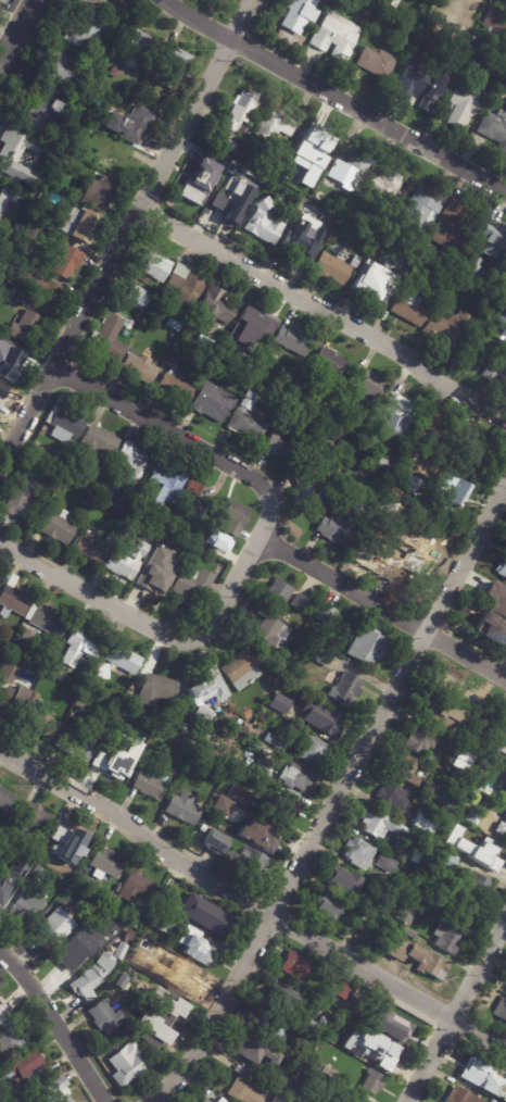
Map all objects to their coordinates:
building: (393, 2)
building: (461, 5)
building: (104, 7)
building: (299, 14)
building: (497, 20)
road: (17, 32)
building: (84, 32)
building: (337, 36)
building: (131, 47)
building: (459, 49)
building: (378, 63)
building: (167, 67)
building: (58, 73)
building: (114, 73)
building: (421, 88)
building: (140, 89)
road: (339, 93)
building: (464, 104)
building: (240, 110)
building: (38, 114)
building: (276, 122)
building: (136, 125)
building: (493, 130)
building: (224, 141)
building: (312, 142)
building: (15, 152)
building: (116, 159)
building: (350, 166)
building: (269, 185)
building: (385, 189)
building: (207, 190)
building: (100, 193)
building: (7, 201)
building: (232, 203)
building: (359, 206)
building: (421, 206)
building: (35, 213)
building: (264, 223)
building: (78, 224)
building: (451, 228)
road: (125, 231)
building: (490, 240)
building: (295, 249)
building: (64, 261)
building: (355, 262)
building: (152, 267)
building: (332, 270)
building: (483, 283)
building: (440, 284)
building: (184, 287)
building: (369, 288)
building: (39, 291)
building: (134, 298)
building: (408, 306)
building: (215, 308)
building: (116, 309)
road: (324, 309)
building: (504, 317)
building: (256, 321)
building: (175, 326)
building: (24, 328)
building: (447, 328)
building: (125, 334)
building: (107, 339)
building: (204, 341)
building: (293, 341)
building: (228, 348)
building: (11, 363)
building: (218, 363)
building: (328, 364)
building: (298, 367)
building: (139, 368)
building: (495, 378)
building: (176, 383)
building: (253, 383)
building: (369, 384)
building: (2, 391)
building: (343, 393)
building: (212, 402)
building: (401, 416)
building: (246, 421)
building: (431, 424)
building: (64, 426)
road: (181, 438)
building: (97, 442)
building: (480, 442)
building: (429, 443)
building: (283, 449)
building: (131, 463)
building: (53, 465)
building: (384, 465)
building: (98, 471)
building: (65, 485)
building: (413, 485)
building: (163, 488)
building: (193, 488)
building: (309, 489)
building: (455, 493)
building: (126, 497)
building: (24, 504)
building: (138, 505)
building: (191, 511)
building: (232, 517)
building: (58, 527)
building: (336, 534)
building: (217, 541)
building: (91, 548)
building: (395, 559)
building: (125, 560)
building: (504, 568)
building: (0, 579)
building: (153, 581)
building: (192, 587)
building: (277, 594)
building: (496, 598)
building: (13, 601)
building: (301, 603)
road: (383, 608)
building: (325, 612)
building: (46, 621)
road: (149, 626)
building: (491, 628)
building: (267, 634)
building: (28, 635)
building: (1, 641)
building: (365, 643)
building: (80, 644)
building: (322, 656)
building: (124, 658)
building: (36, 660)
building: (291, 661)
building: (42, 664)
building: (51, 668)
building: (242, 668)
building: (103, 671)
building: (8, 673)
building: (451, 684)
building: (159, 686)
building: (345, 688)
building: (205, 696)
building: (35, 698)
building: (13, 701)
building: (115, 702)
building: (280, 703)
building: (132, 705)
building: (479, 707)
building: (440, 712)
building: (248, 714)
building: (102, 715)
building: (321, 717)
building: (505, 721)
building: (43, 724)
building: (181, 740)
building: (463, 740)
building: (273, 741)
building: (419, 741)
building: (501, 741)
building: (76, 743)
building: (314, 750)
building: (270, 754)
building: (193, 761)
building: (236, 761)
building: (113, 762)
building: (408, 768)
building: (260, 769)
building: (214, 776)
building: (295, 776)
building: (150, 782)
building: (239, 793)
building: (392, 796)
building: (5, 799)
road: (333, 799)
building: (443, 799)
building: (505, 802)
building: (223, 805)
building: (284, 806)
building: (182, 809)
building: (505, 814)
building: (33, 817)
building: (473, 817)
building: (420, 823)
building: (381, 825)
building: (502, 828)
building: (260, 834)
building: (67, 836)
building: (446, 839)
building: (457, 846)
building: (492, 851)
building: (246, 852)
building: (400, 852)
building: (359, 853)
building: (446, 860)
building: (106, 863)
building: (72, 868)
building: (387, 872)
building: (37, 873)
building: (11, 877)
building: (75, 879)
building: (344, 881)
building: (478, 886)
building: (137, 888)
building: (117, 889)
building: (434, 889)
building: (112, 899)
road: (251, 905)
building: (329, 906)
building: (25, 907)
building: (84, 913)
building: (406, 914)
building: (463, 917)
building: (165, 918)
building: (212, 918)
building: (384, 918)
building: (362, 922)
building: (137, 925)
building: (56, 928)
building: (422, 930)
building: (408, 931)
building: (446, 939)
building: (87, 943)
building: (159, 950)
building: (199, 951)
building: (418, 960)
building: (295, 965)
building: (96, 974)
building: (188, 979)
building: (122, 981)
building: (340, 990)
building: (281, 997)
building: (352, 1005)
building: (501, 1010)
road: (457, 1012)
building: (3, 1013)
building: (104, 1017)
building: (159, 1017)
building: (320, 1025)
building: (266, 1026)
road: (53, 1027)
building: (393, 1032)
building: (340, 1037)
building: (11, 1039)
building: (371, 1047)
building: (251, 1050)
building: (126, 1062)
building: (22, 1072)
building: (477, 1073)
building: (284, 1082)
building: (372, 1082)
building: (319, 1084)
building: (391, 1085)
building: (245, 1088)
building: (51, 1091)
building: (461, 1095)
building: (26, 1097)
building: (504, 1097)
building: (279, 1098)
building: (205, 1100)
building: (217, 1101)
building: (343, 1101)
building: (494, 1101)

